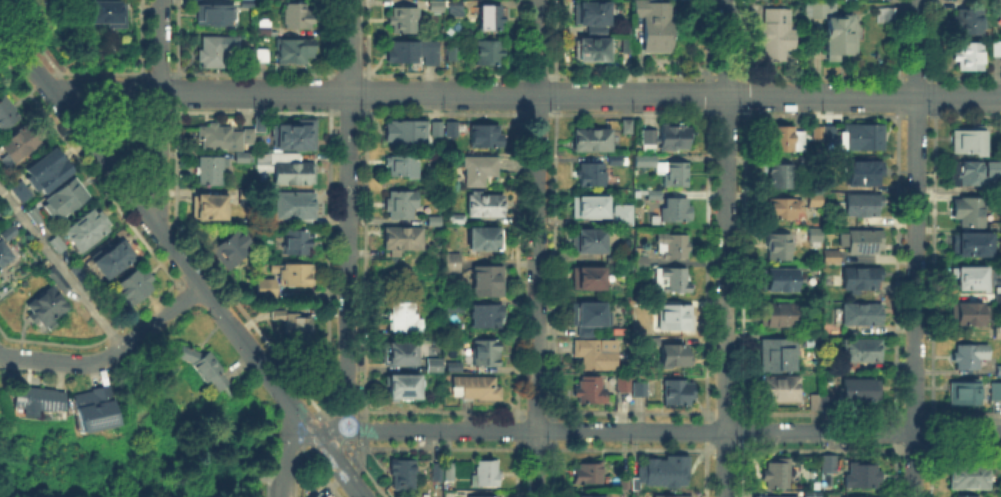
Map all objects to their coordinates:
building: (850, 0)
building: (241, 1)
building: (250, 4)
building: (997, 4)
building: (437, 7)
building: (455, 9)
building: (880, 10)
building: (108, 14)
building: (591, 14)
building: (216, 15)
building: (299, 16)
building: (965, 17)
building: (491, 18)
building: (405, 20)
building: (657, 25)
building: (264, 27)
building: (835, 30)
building: (777, 35)
road: (140, 36)
road: (519, 37)
road: (555, 37)
road: (707, 37)
road: (897, 37)
building: (994, 44)
road: (159, 45)
building: (629, 46)
building: (295, 50)
building: (593, 50)
building: (212, 52)
building: (489, 52)
building: (415, 53)
building: (964, 53)
building: (452, 54)
road: (25, 55)
building: (257, 56)
road: (56, 68)
road: (172, 71)
road: (252, 71)
road: (158, 72)
road: (347, 72)
road: (406, 72)
road: (933, 72)
road: (143, 73)
road: (784, 73)
road: (537, 74)
road: (631, 74)
road: (44, 81)
road: (105, 88)
road: (176, 91)
road: (328, 92)
road: (366, 92)
road: (519, 93)
road: (253, 94)
road: (707, 94)
road: (674, 95)
road: (347, 112)
building: (7, 114)
road: (727, 114)
road: (915, 115)
building: (999, 123)
building: (627, 126)
building: (437, 130)
building: (452, 130)
building: (406, 133)
building: (824, 134)
building: (298, 135)
building: (486, 136)
building: (862, 137)
building: (675, 138)
building: (963, 138)
building: (222, 139)
building: (786, 140)
building: (592, 141)
building: (650, 141)
building: (22, 143)
road: (104, 158)
building: (243, 158)
road: (158, 159)
building: (615, 160)
road: (87, 167)
building: (404, 167)
building: (45, 169)
road: (176, 169)
building: (287, 169)
building: (211, 170)
building: (667, 170)
building: (968, 170)
building: (479, 171)
building: (592, 174)
building: (863, 174)
building: (781, 177)
building: (997, 181)
road: (328, 185)
road: (365, 185)
road: (707, 186)
building: (18, 189)
building: (655, 196)
building: (66, 199)
building: (813, 200)
building: (402, 205)
building: (486, 205)
building: (859, 205)
building: (0, 206)
building: (294, 206)
building: (591, 207)
building: (964, 207)
building: (210, 208)
building: (785, 208)
building: (677, 210)
building: (35, 215)
road: (348, 215)
building: (624, 215)
building: (458, 220)
building: (435, 221)
building: (88, 230)
road: (932, 230)
building: (9, 234)
building: (816, 235)
building: (484, 239)
building: (402, 240)
building: (589, 241)
building: (297, 242)
building: (965, 242)
building: (864, 243)
building: (58, 244)
building: (673, 246)
building: (780, 247)
road: (537, 248)
road: (726, 248)
road: (915, 248)
building: (231, 249)
building: (3, 255)
road: (180, 257)
building: (832, 258)
building: (114, 259)
road: (517, 262)
road: (554, 262)
building: (451, 263)
building: (641, 263)
road: (61, 267)
building: (80, 273)
building: (294, 274)
building: (966, 274)
building: (859, 276)
building: (57, 279)
building: (589, 279)
building: (673, 280)
building: (780, 280)
building: (489, 281)
building: (134, 287)
building: (264, 289)
building: (997, 291)
building: (640, 306)
building: (46, 307)
building: (455, 308)
building: (961, 310)
building: (278, 313)
building: (859, 315)
building: (779, 316)
building: (486, 317)
building: (590, 317)
building: (677, 317)
road: (248, 319)
building: (404, 319)
building: (298, 326)
building: (996, 329)
road: (94, 339)
building: (652, 339)
building: (812, 340)
building: (486, 353)
building: (861, 353)
road: (110, 354)
building: (403, 354)
building: (597, 354)
building: (960, 354)
building: (676, 355)
building: (779, 356)
building: (451, 364)
building: (435, 366)
building: (997, 366)
building: (205, 367)
road: (263, 367)
building: (624, 384)
building: (404, 387)
building: (994, 387)
building: (476, 388)
building: (640, 389)
building: (781, 389)
building: (591, 390)
building: (959, 390)
building: (861, 391)
building: (679, 393)
building: (34, 399)
building: (812, 400)
building: (823, 400)
building: (95, 409)
road: (325, 410)
road: (347, 410)
road: (440, 411)
road: (517, 411)
road: (743, 411)
road: (630, 412)
road: (706, 412)
road: (913, 412)
road: (966, 413)
road: (554, 415)
road: (931, 423)
road: (363, 428)
road: (553, 429)
road: (743, 430)
road: (894, 430)
road: (673, 431)
road: (306, 438)
road: (335, 438)
road: (931, 441)
road: (552, 443)
road: (435, 447)
road: (534, 447)
road: (629, 448)
road: (724, 449)
road: (818, 449)
road: (912, 449)
road: (966, 449)
road: (286, 454)
building: (829, 464)
building: (964, 469)
road: (296, 470)
road: (319, 471)
road: (343, 471)
building: (665, 471)
road: (552, 472)
building: (437, 473)
building: (589, 473)
road: (705, 473)
road: (741, 473)
road: (893, 473)
road: (930, 473)
building: (450, 474)
building: (486, 474)
building: (778, 474)
building: (403, 475)
building: (624, 476)
building: (862, 476)
park: (186, 481)
building: (315, 494)
building: (670, 495)
building: (772, 495)
building: (813, 495)
building: (962, 495)
building: (481, 496)
building: (588, 496)
building: (845, 496)

